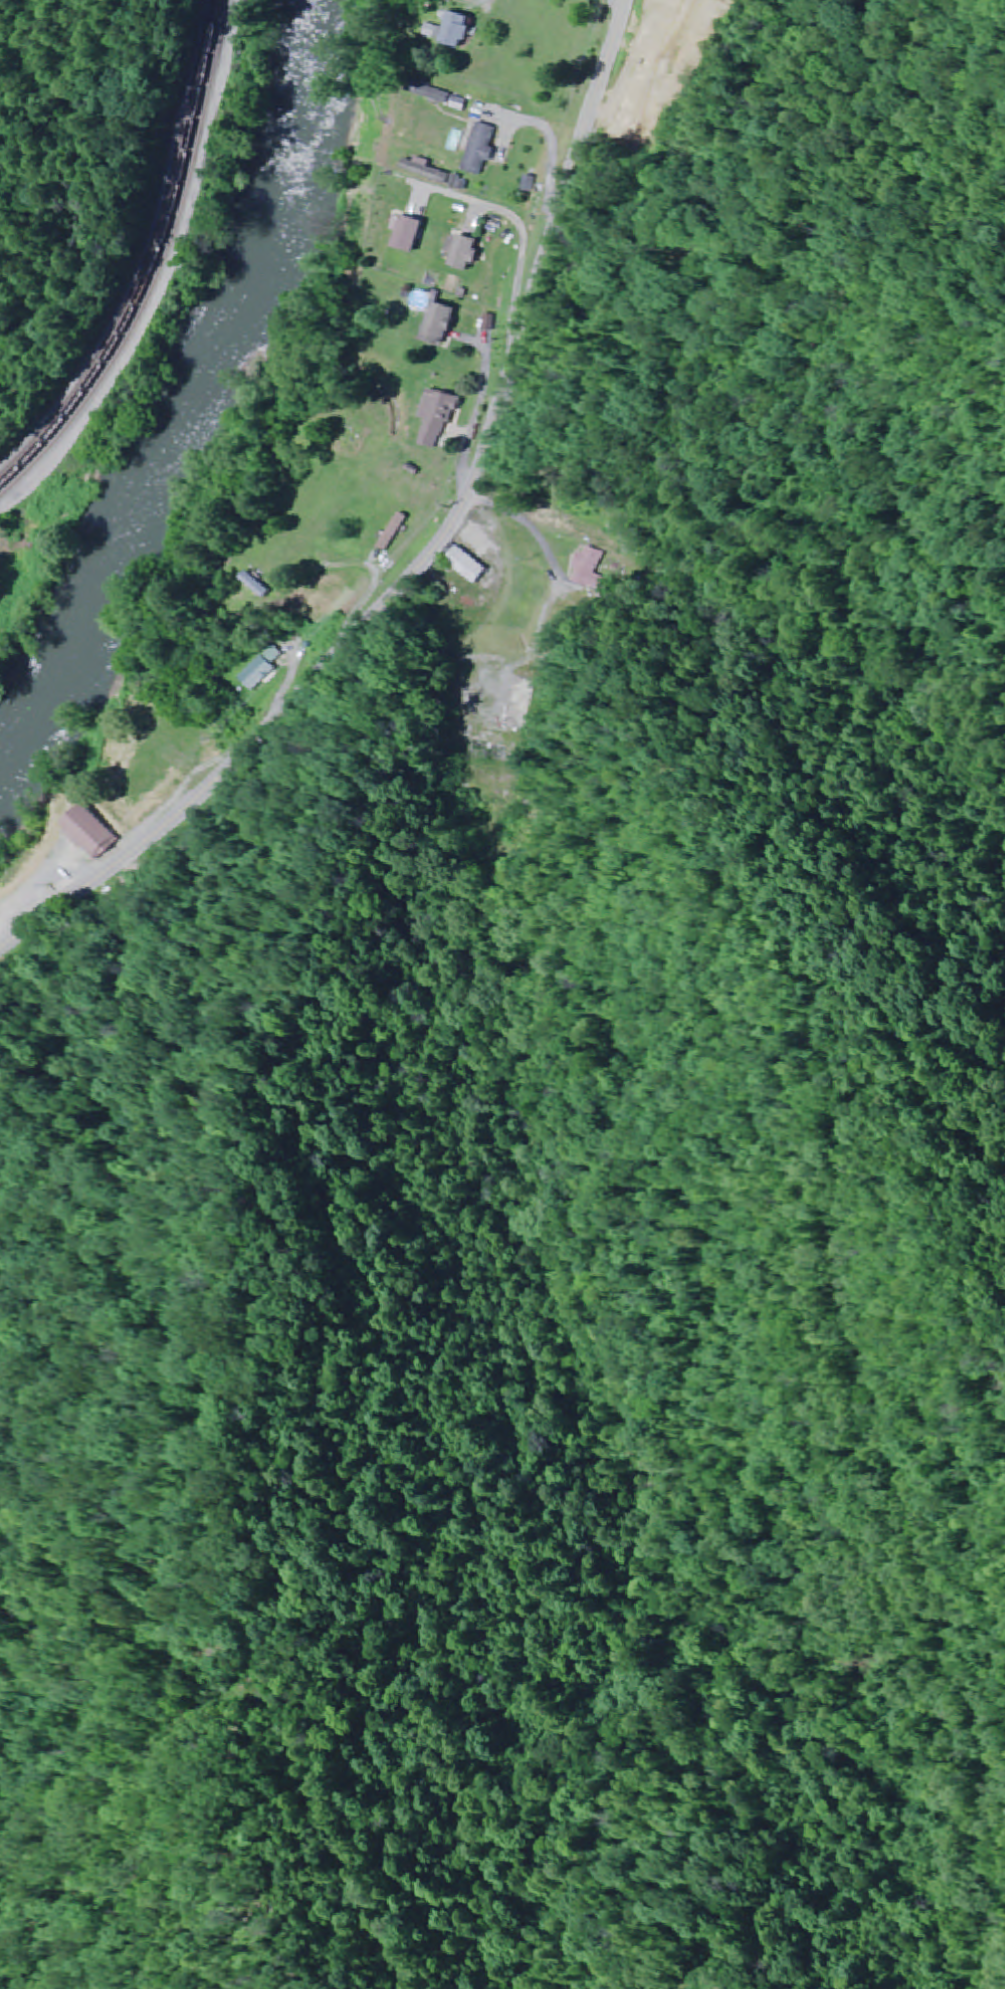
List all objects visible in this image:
road: (493, 2)
road: (614, 9)
building: (461, 31)
building: (438, 95)
building: (481, 150)
building: (410, 233)
building: (468, 251)
railway: (151, 265)
road: (168, 277)
building: (442, 324)
river: (191, 396)
building: (437, 420)
road: (433, 552)
building: (466, 563)
building: (585, 572)
building: (257, 585)
building: (256, 671)
building: (491, 751)
building: (94, 832)

